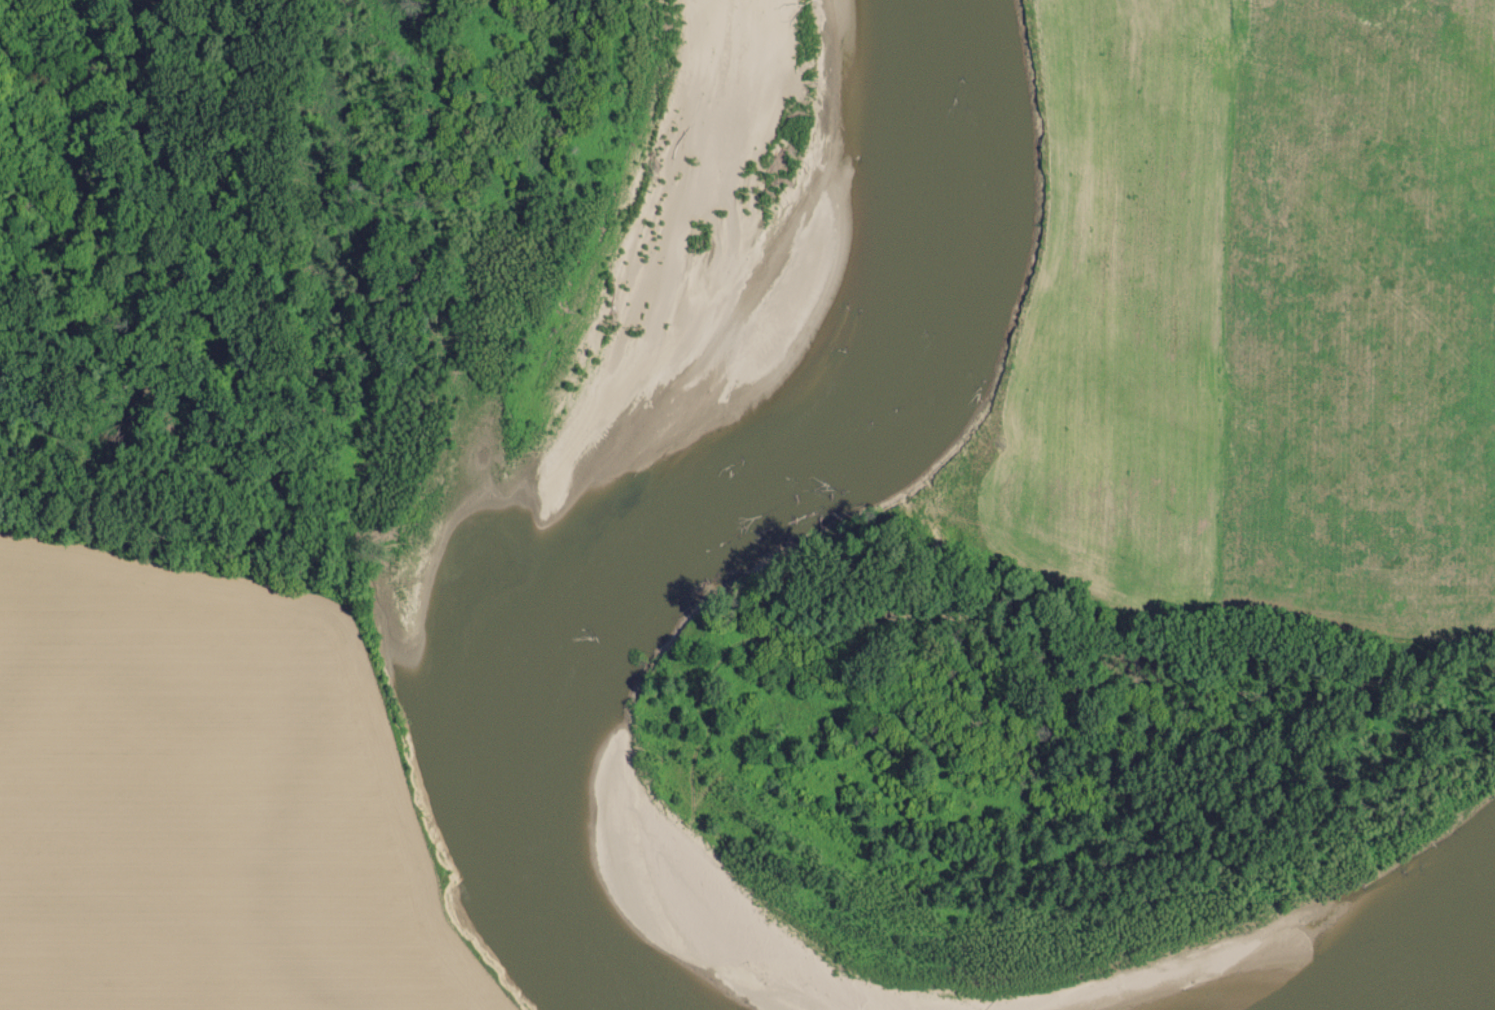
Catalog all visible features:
river: (474, 580)
river: (1352, 960)

